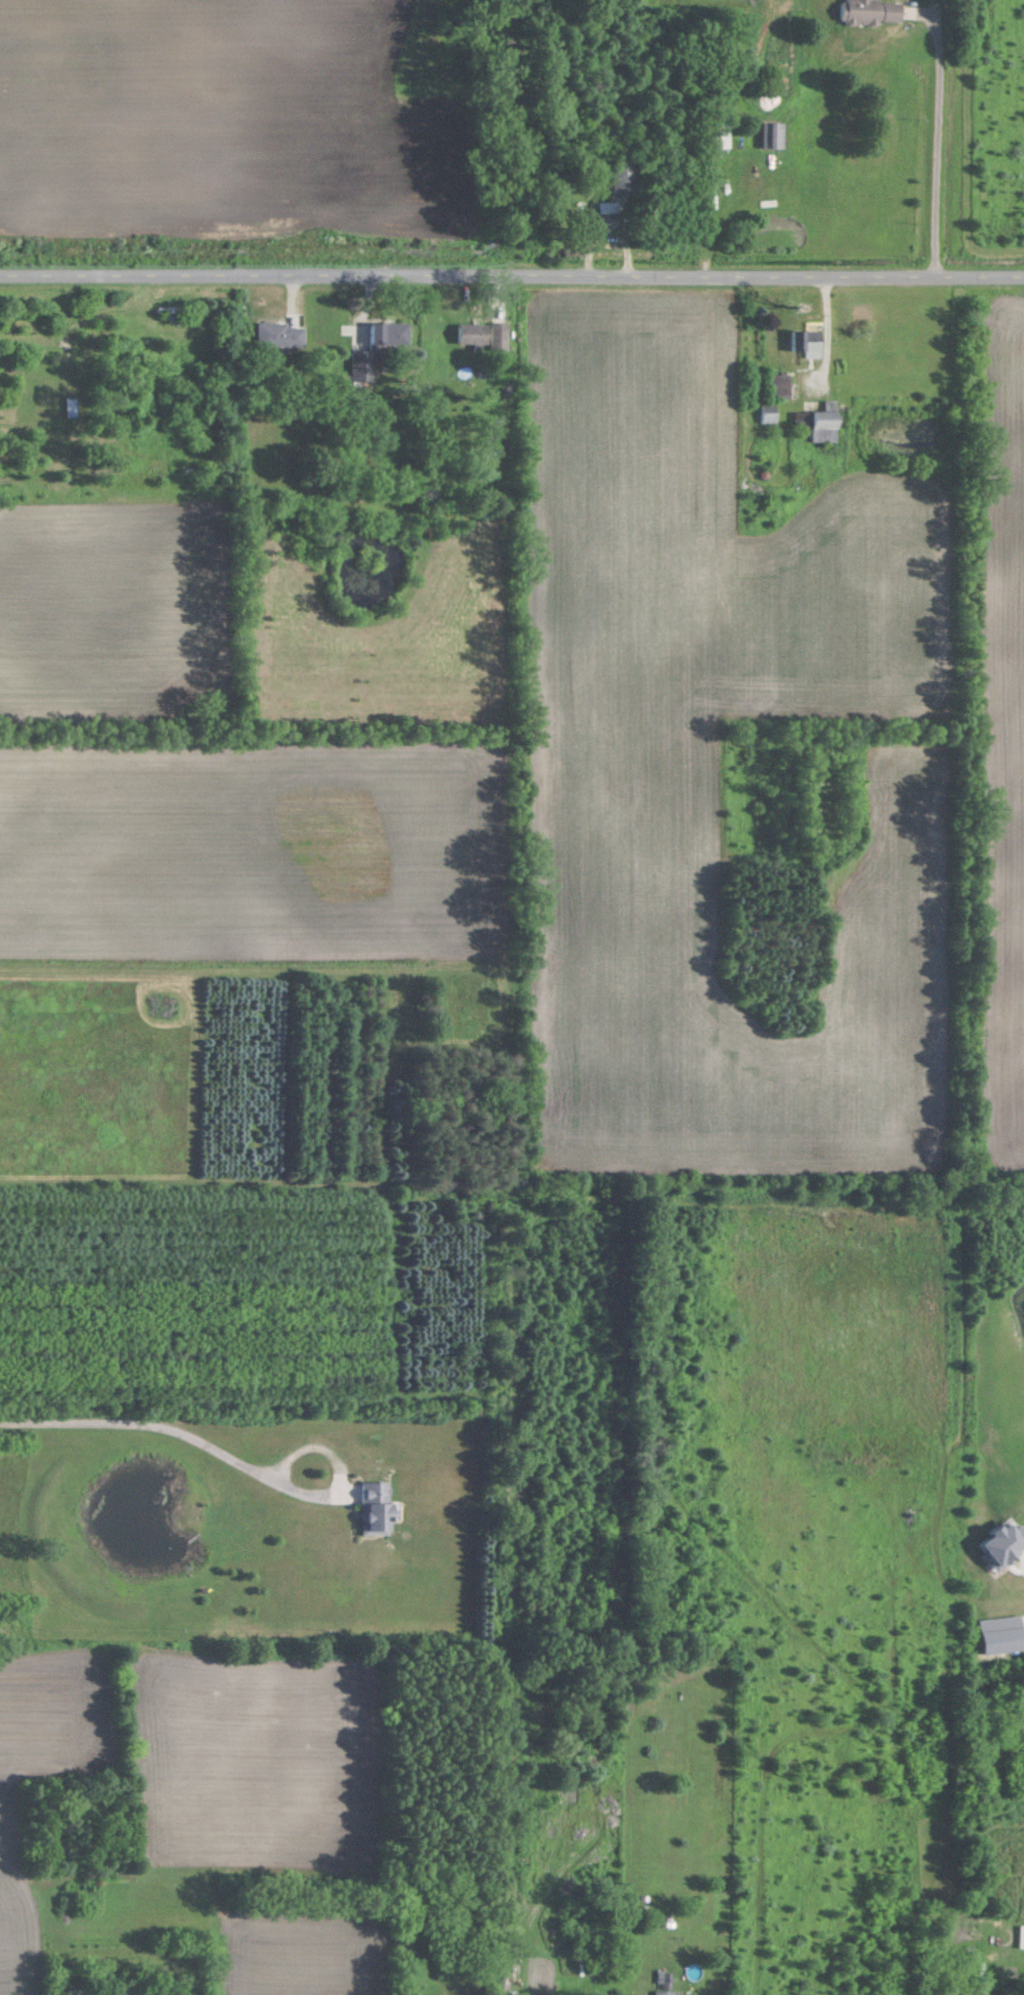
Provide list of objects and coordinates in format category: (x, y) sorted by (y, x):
building: (869, 11)
building: (772, 135)
road: (934, 143)
building: (619, 176)
building: (603, 220)
road: (511, 277)
road: (822, 331)
building: (278, 333)
building: (476, 333)
building: (803, 342)
building: (360, 366)
building: (774, 385)
building: (817, 421)
road: (158, 1425)
building: (379, 1508)
building: (663, 1976)
building: (664, 1992)

